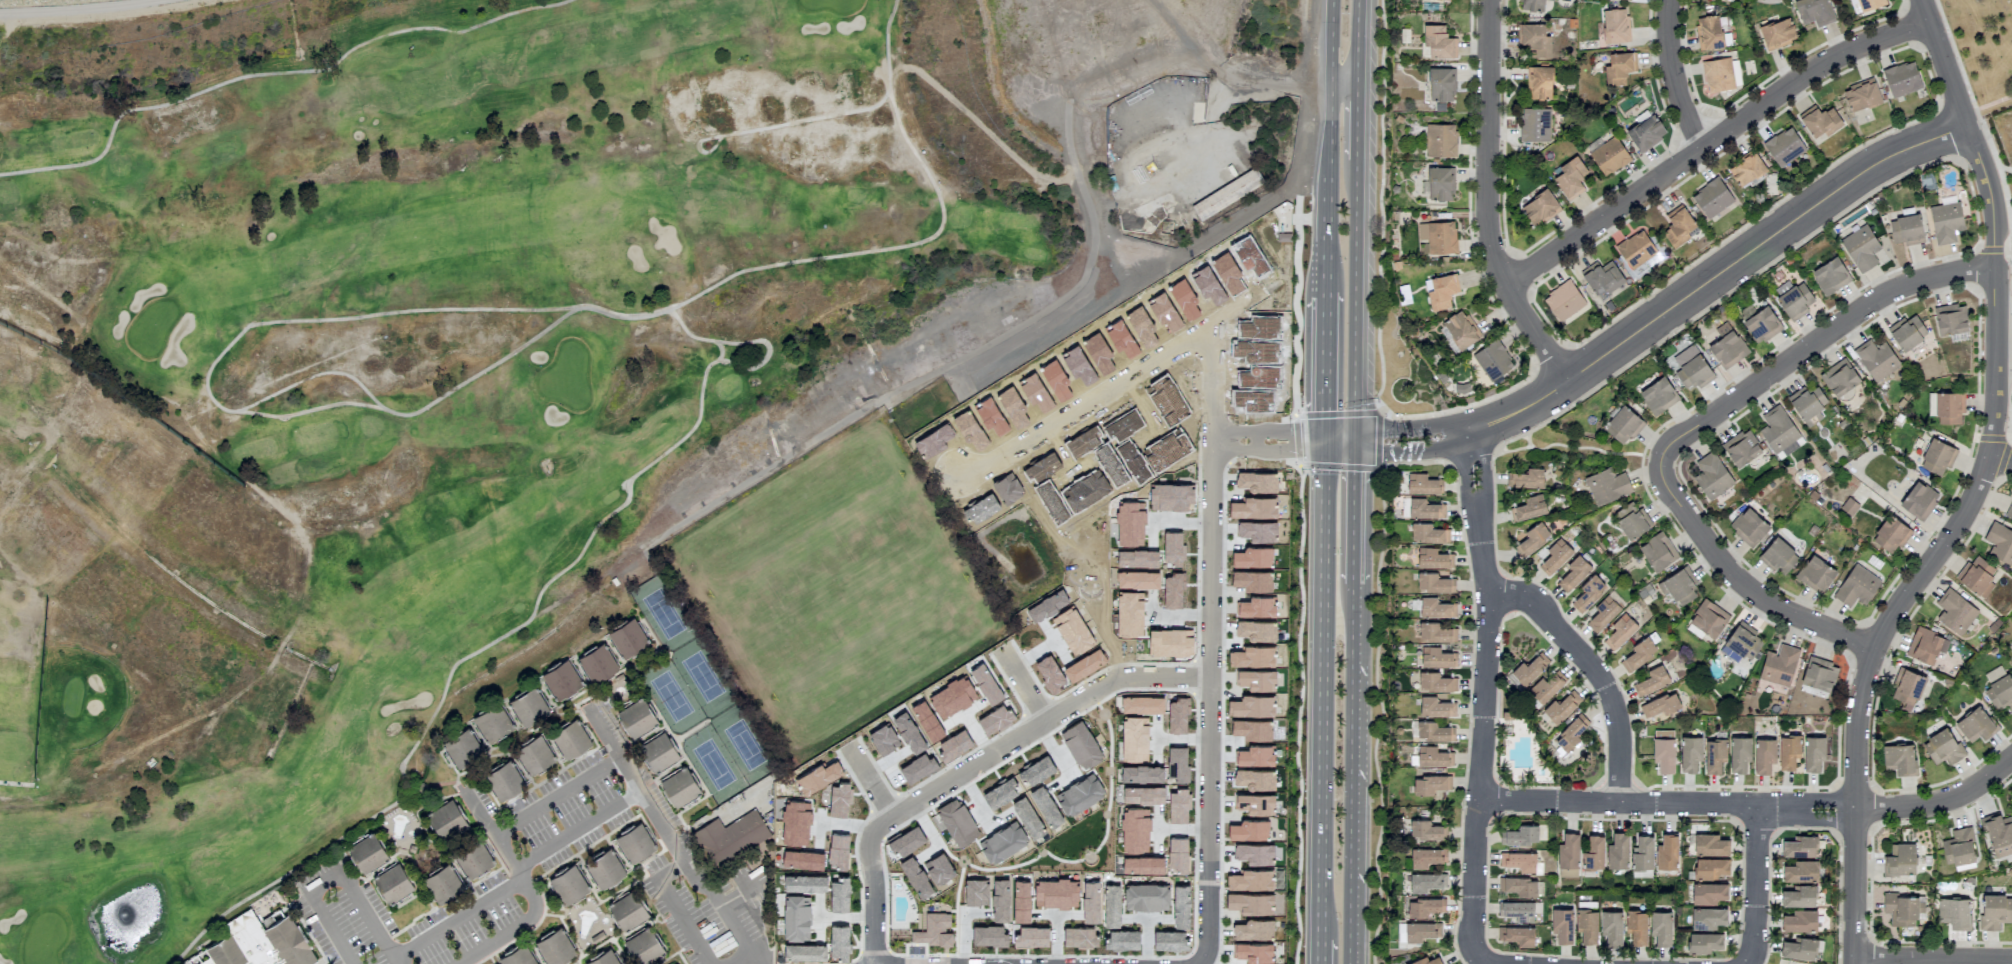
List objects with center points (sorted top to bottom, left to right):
building: (1731, 0)
road: (42, 2)
building: (1532, 5)
building: (1865, 5)
building: (1814, 11)
building: (1613, 27)
building: (1708, 32)
building: (1777, 33)
road: (886, 36)
road: (1357, 38)
road: (1325, 39)
road: (1202, 40)
building: (1534, 40)
building: (1437, 42)
park: (1985, 49)
building: (1617, 69)
road: (274, 72)
building: (1721, 74)
road: (1675, 76)
road: (1341, 78)
road: (1282, 79)
building: (1902, 79)
building: (1538, 83)
building: (1439, 85)
building: (1861, 95)
road: (1989, 105)
road: (820, 119)
road: (1356, 119)
building: (1819, 121)
building: (1534, 124)
building: (1645, 131)
building: (1440, 140)
road: (1712, 142)
building: (1784, 146)
road: (700, 150)
building: (1609, 156)
building: (1746, 168)
building: (1570, 178)
road: (1323, 184)
building: (1439, 184)
building: (1712, 198)
road: (1488, 201)
building: (1540, 208)
road: (1379, 216)
building: (1946, 222)
building: (1678, 226)
building: (1906, 230)
building: (1438, 236)
building: (1861, 248)
building: (1637, 252)
road: (1719, 273)
building: (1830, 276)
building: (1602, 278)
building: (1442, 291)
building: (1793, 299)
building: (1564, 300)
road: (1354, 301)
road: (547, 310)
building: (1951, 319)
building: (1762, 325)
building: (1460, 330)
building: (1907, 332)
building: (1727, 346)
road: (723, 351)
building: (1876, 359)
building: (1493, 361)
road: (1323, 367)
park: (430, 369)
building: (1694, 372)
building: (1840, 380)
road: (1214, 384)
road: (1103, 392)
building: (1658, 395)
building: (1807, 403)
building: (1948, 407)
road: (423, 411)
building: (1623, 425)
road: (1699, 427)
building: (1777, 429)
road: (1411, 430)
traffic signals: (1354, 442)
road: (1339, 443)
road: (1270, 445)
traffic signals: (1325, 445)
building: (1741, 448)
road: (1415, 452)
building: (1938, 456)
road: (2001, 463)
building: (1711, 475)
building: (1525, 478)
building: (1421, 484)
building: (1607, 486)
road: (1979, 490)
building: (1919, 500)
building: (1421, 508)
building: (1528, 508)
building: (2009, 512)
road: (1353, 515)
building: (1632, 522)
building: (1748, 526)
building: (1428, 533)
building: (1891, 534)
building: (1533, 537)
park: (871, 541)
building: (2000, 543)
building: (1657, 551)
building: (1555, 556)
building: (1779, 556)
building: (1432, 558)
road: (1213, 562)
park: (1083, 566)
building: (1574, 573)
building: (1816, 574)
building: (1977, 576)
building: (1434, 583)
building: (1678, 586)
building: (1856, 586)
building: (1588, 593)
building: (1436, 608)
building: (1605, 611)
building: (1955, 611)
road: (529, 618)
building: (1707, 619)
building: (1620, 631)
building: (1436, 632)
building: (627, 637)
building: (1740, 644)
building: (1926, 645)
building: (1638, 653)
building: (1436, 657)
building: (596, 663)
building: (1779, 665)
building: (1529, 669)
road: (1596, 670)
building: (1819, 673)
building: (560, 679)
building: (1651, 680)
building: (1435, 682)
road: (1023, 685)
building: (1546, 686)
building: (1907, 687)
building: (1999, 687)
road: (1323, 692)
road: (1484, 692)
park: (701, 696)
building: (1660, 705)
building: (528, 706)
building: (1436, 707)
building: (1560, 708)
building: (636, 718)
building: (491, 722)
building: (1975, 724)
building: (1434, 731)
building: (1569, 734)
building: (570, 739)
building: (1943, 747)
building: (462, 749)
building: (1663, 750)
building: (1788, 751)
building: (658, 752)
building: (1690, 753)
building: (1739, 753)
building: (1813, 753)
building: (533, 754)
building: (1714, 755)
building: (1764, 755)
building: (1433, 756)
building: (1898, 758)
road: (977, 763)
road: (1352, 776)
building: (503, 780)
road: (870, 783)
building: (1430, 784)
building: (679, 787)
road: (558, 795)
road: (1753, 804)
road: (606, 811)
road: (1209, 813)
building: (446, 820)
building: (1426, 830)
building: (1999, 834)
building: (1521, 835)
building: (730, 837)
building: (634, 842)
building: (1710, 844)
park: (1071, 846)
building: (1800, 846)
building: (1958, 847)
building: (1617, 851)
building: (1667, 852)
building: (367, 853)
building: (1593, 853)
building: (1642, 853)
building: (1568, 855)
building: (1427, 856)
building: (473, 859)
building: (1899, 859)
building: (1519, 861)
building: (1710, 868)
building: (603, 869)
building: (1801, 871)
road: (334, 876)
building: (1250, 879)
building: (1425, 882)
building: (392, 883)
building: (442, 883)
building: (805, 883)
road: (1758, 885)
building: (569, 886)
building: (1519, 886)
building: (974, 890)
building: (1055, 892)
building: (839, 893)
building: (1708, 893)
building: (1146, 896)
building: (1799, 896)
building: (1000, 900)
building: (1021, 901)
building: (1090, 902)
building: (1250, 902)
building: (1181, 906)
building: (1424, 907)
building: (1903, 909)
building: (627, 910)
building: (1518, 910)
road: (674, 911)
building: (1954, 911)
building: (1995, 911)
fountain: (127, 916)
building: (1707, 917)
building: (796, 918)
road: (456, 919)
building: (1800, 920)
building: (1562, 924)
building: (1587, 925)
building: (1105, 926)
building: (1636, 926)
building: (1611, 927)
building: (1661, 927)
building: (1254, 929)
building: (933, 930)
building: (1421, 931)
building: (989, 935)
building: (1516, 935)
building: (1031, 936)
building: (1170, 940)
building: (260, 942)
building: (838, 942)
building: (1703, 942)
building: (554, 947)
building: (643, 947)
building: (1799, 948)
road: (1320, 951)
building: (804, 952)
building: (1254, 952)
road: (1204, 955)
building: (517, 956)
building: (602, 958)
road: (743, 959)
road: (1481, 960)
road: (1935, 960)
building: (205, 961)
building: (1426, 961)

